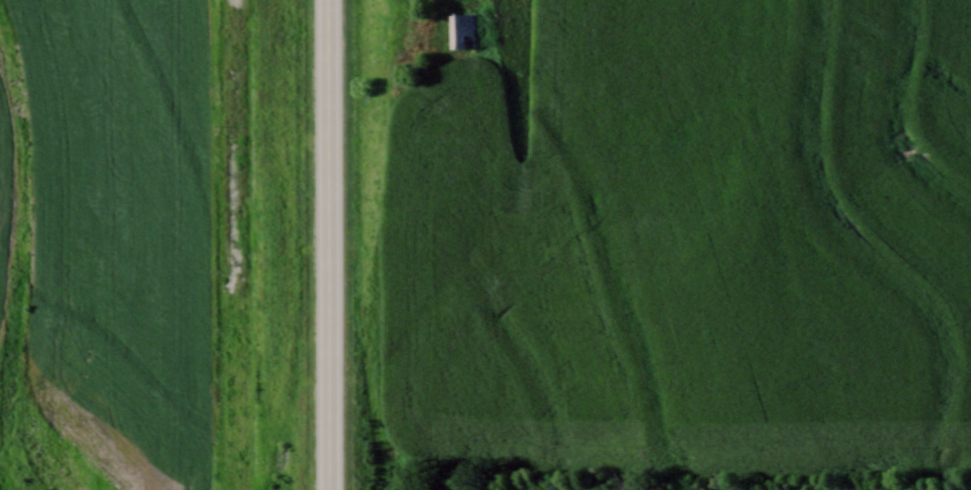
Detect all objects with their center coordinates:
building: (462, 29)
road: (230, 130)
road: (328, 244)

